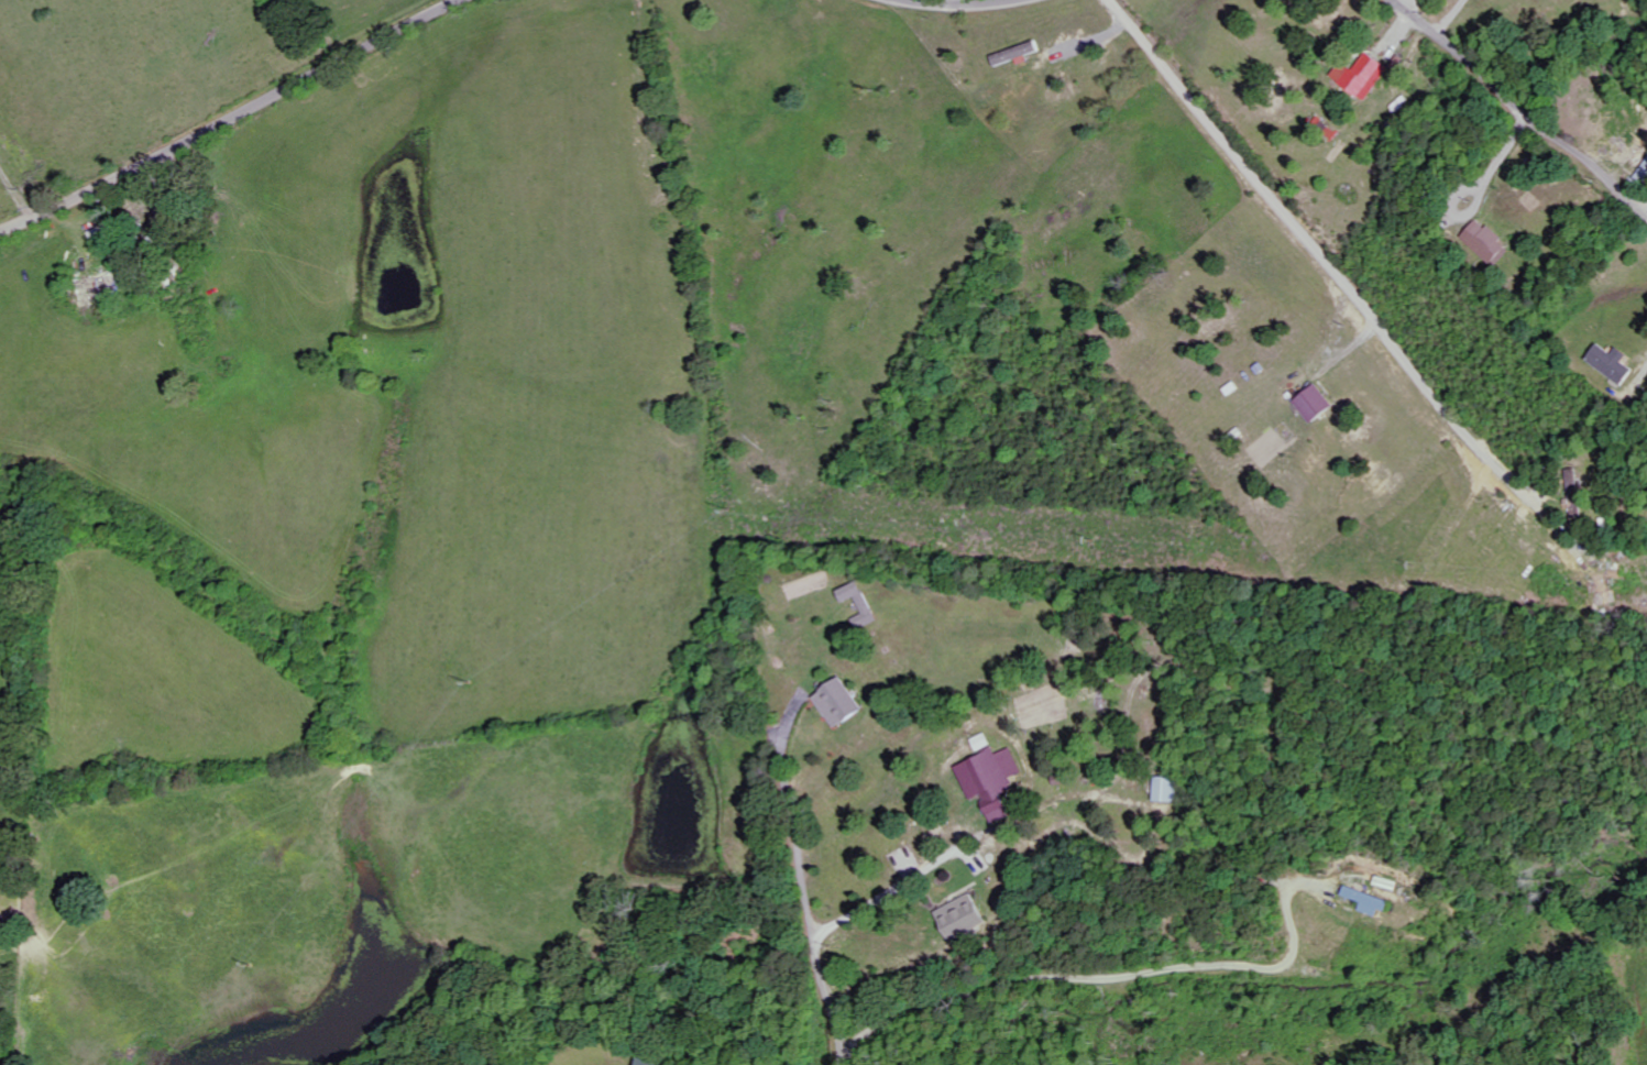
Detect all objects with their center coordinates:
road: (960, 4)
building: (1021, 54)
building: (1365, 76)
road: (1518, 111)
road: (234, 120)
building: (1489, 242)
road: (1322, 254)
building: (1615, 363)
building: (1318, 404)
building: (863, 605)
building: (843, 704)
building: (996, 780)
building: (1172, 790)
road: (811, 887)
building: (1372, 902)
building: (967, 919)
building: (651, 1062)

